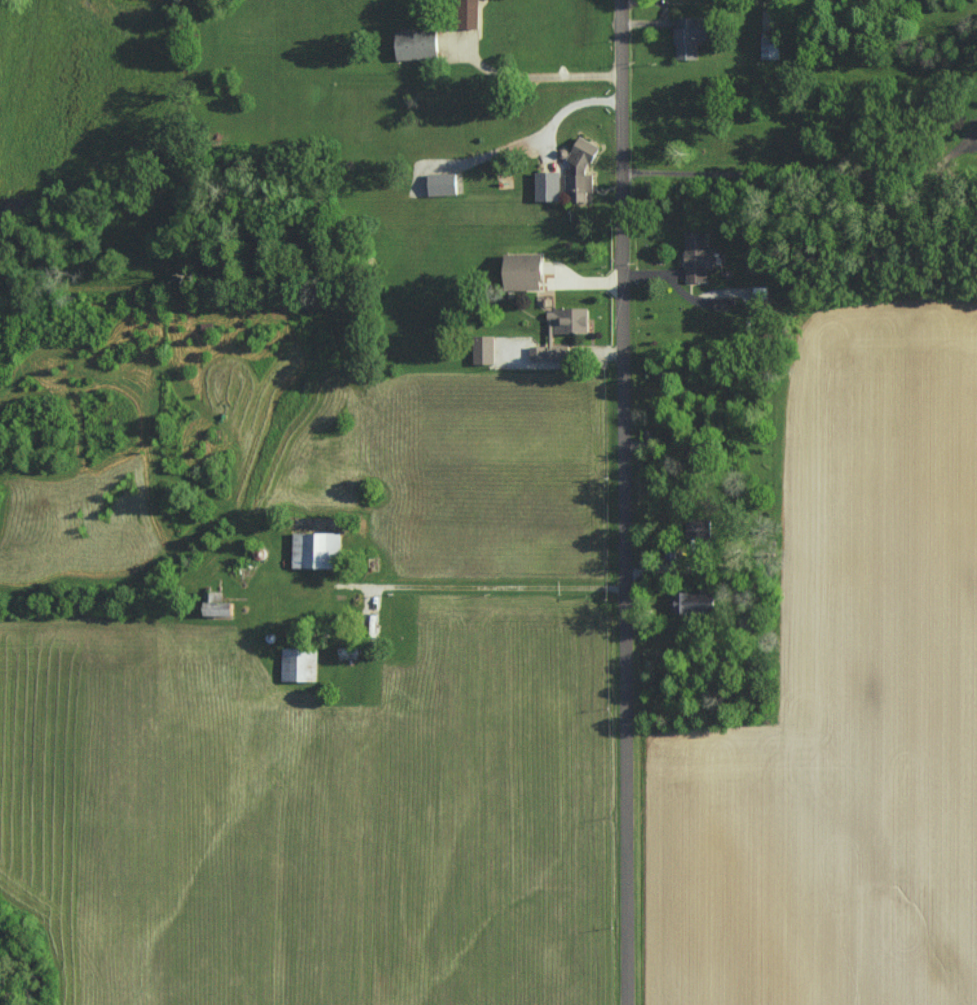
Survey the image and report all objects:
building: (470, 14)
building: (691, 36)
building: (418, 44)
building: (771, 45)
road: (539, 77)
road: (568, 110)
building: (580, 171)
building: (443, 184)
building: (548, 186)
road: (800, 212)
building: (698, 258)
building: (526, 271)
building: (570, 320)
building: (484, 350)
building: (551, 353)
road: (623, 502)
building: (699, 528)
building: (317, 551)
road: (482, 586)
building: (692, 603)
building: (221, 607)
building: (299, 663)

